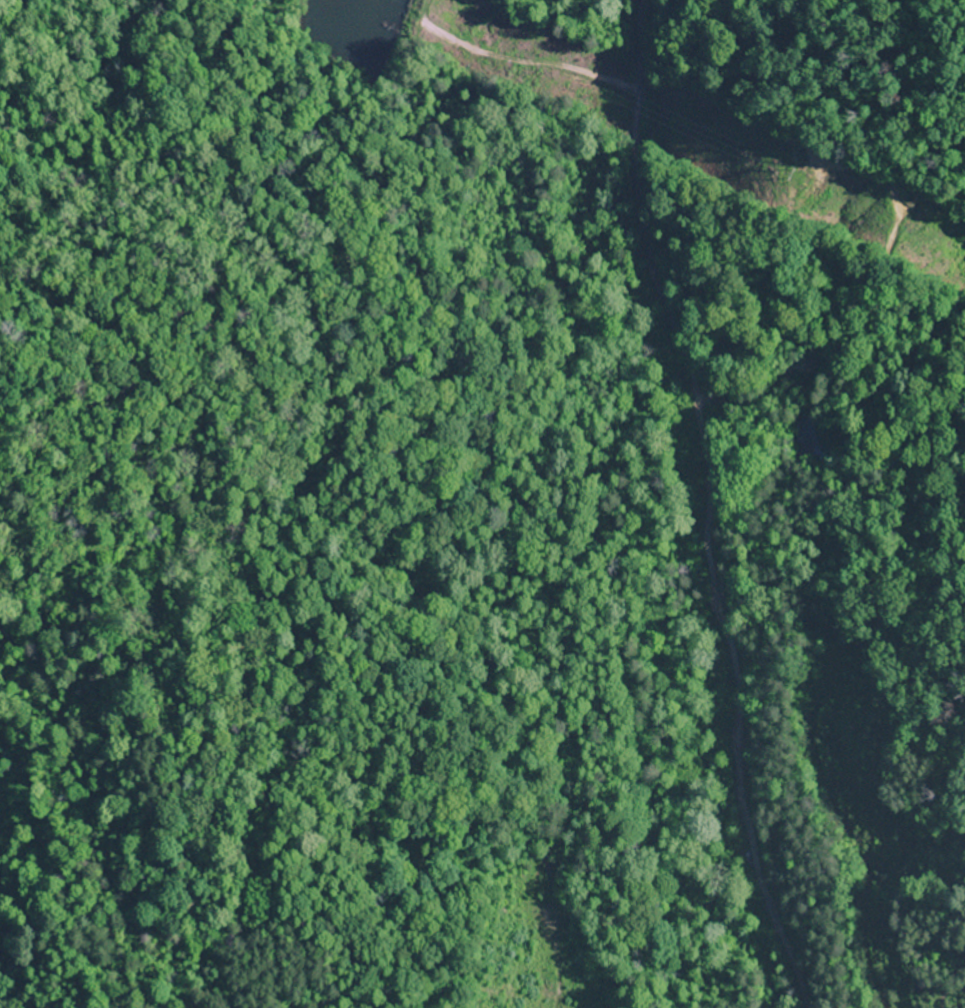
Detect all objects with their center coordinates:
road: (703, 506)

